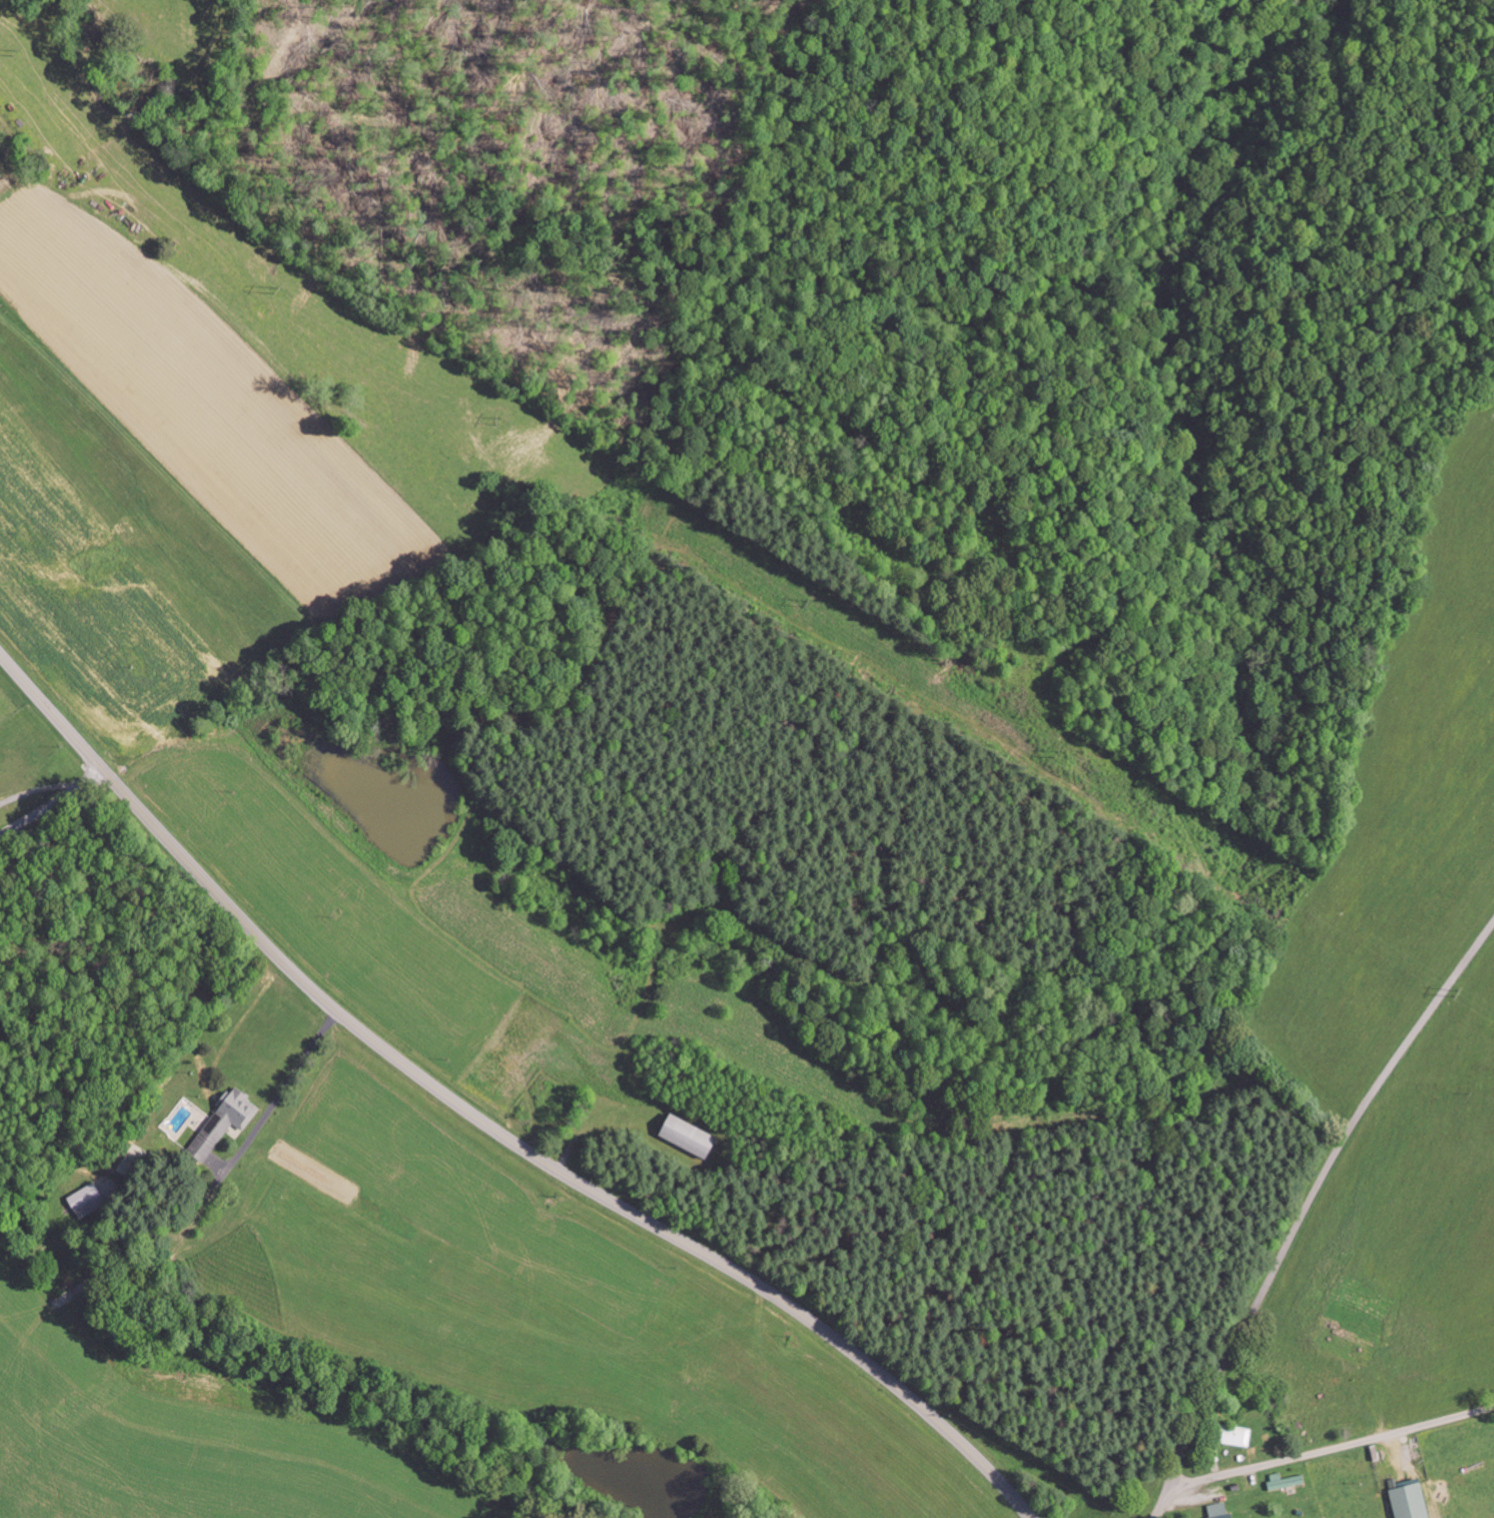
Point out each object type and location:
building: (234, 1113)
road: (485, 1123)
building: (690, 1137)
building: (89, 1200)
road: (1304, 1207)
building: (1241, 1436)
road: (1326, 1449)
building: (1287, 1480)
building: (1412, 1500)
building: (1221, 1510)

